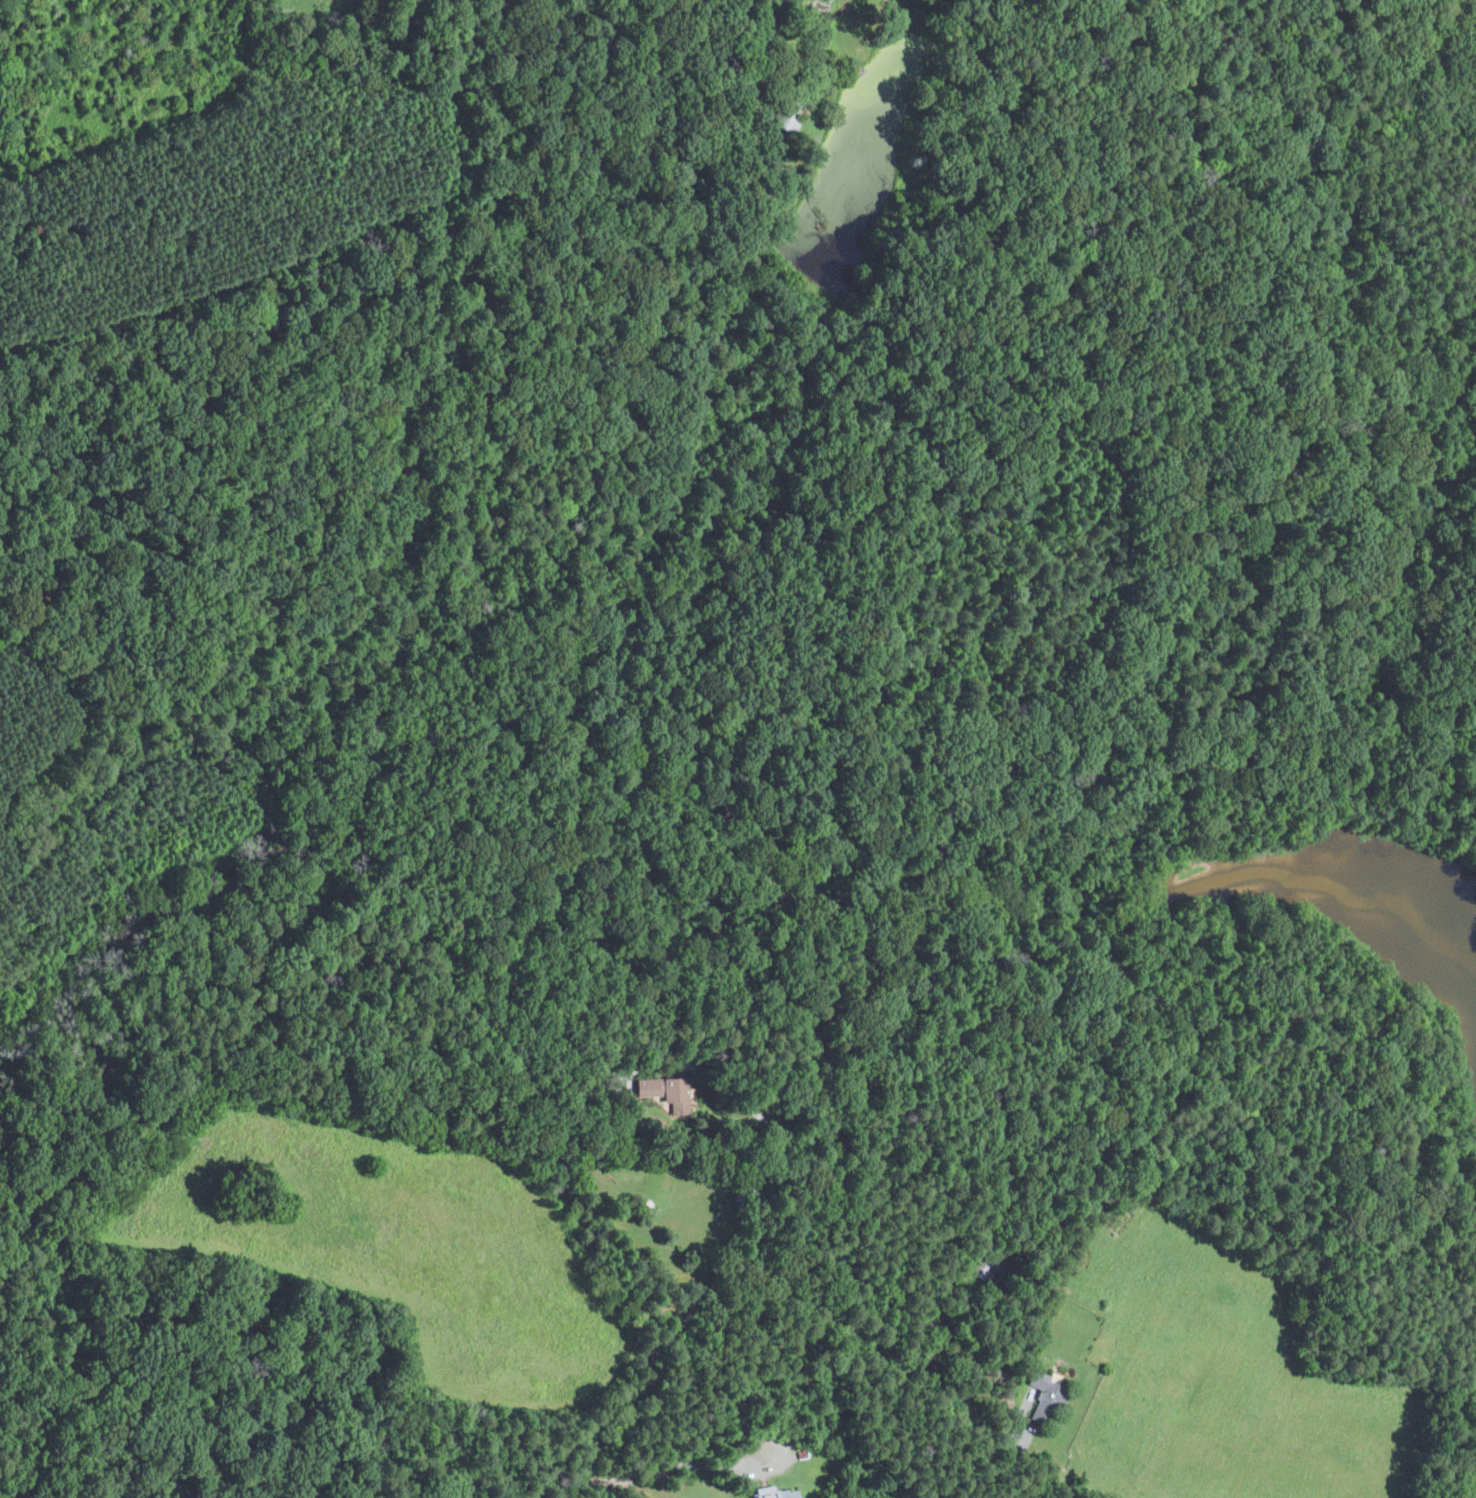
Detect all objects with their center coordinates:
road: (697, 17)
road: (738, 67)
building: (649, 1087)
road: (749, 1220)
building: (1044, 1397)
road: (605, 1438)
road: (669, 1468)

